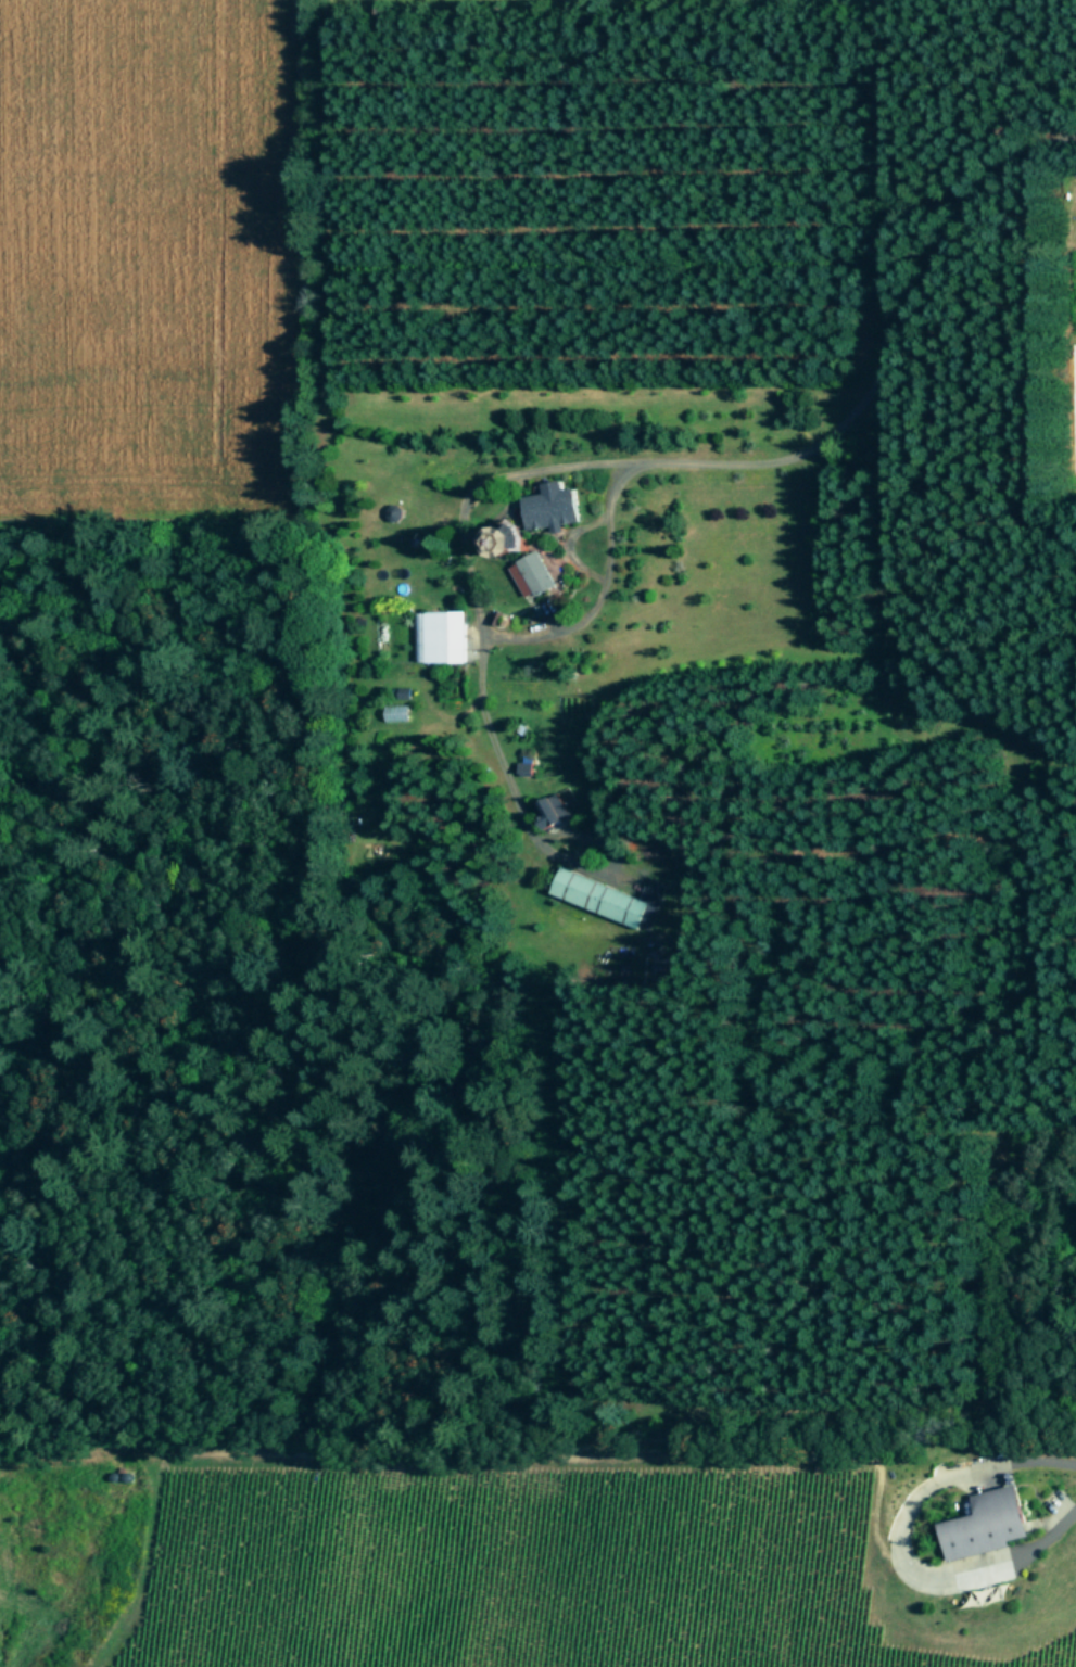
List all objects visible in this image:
road: (886, 354)
building: (555, 506)
building: (535, 573)
road: (473, 611)
building: (444, 635)
building: (555, 810)
building: (613, 898)
building: (989, 1523)
road: (894, 1541)

